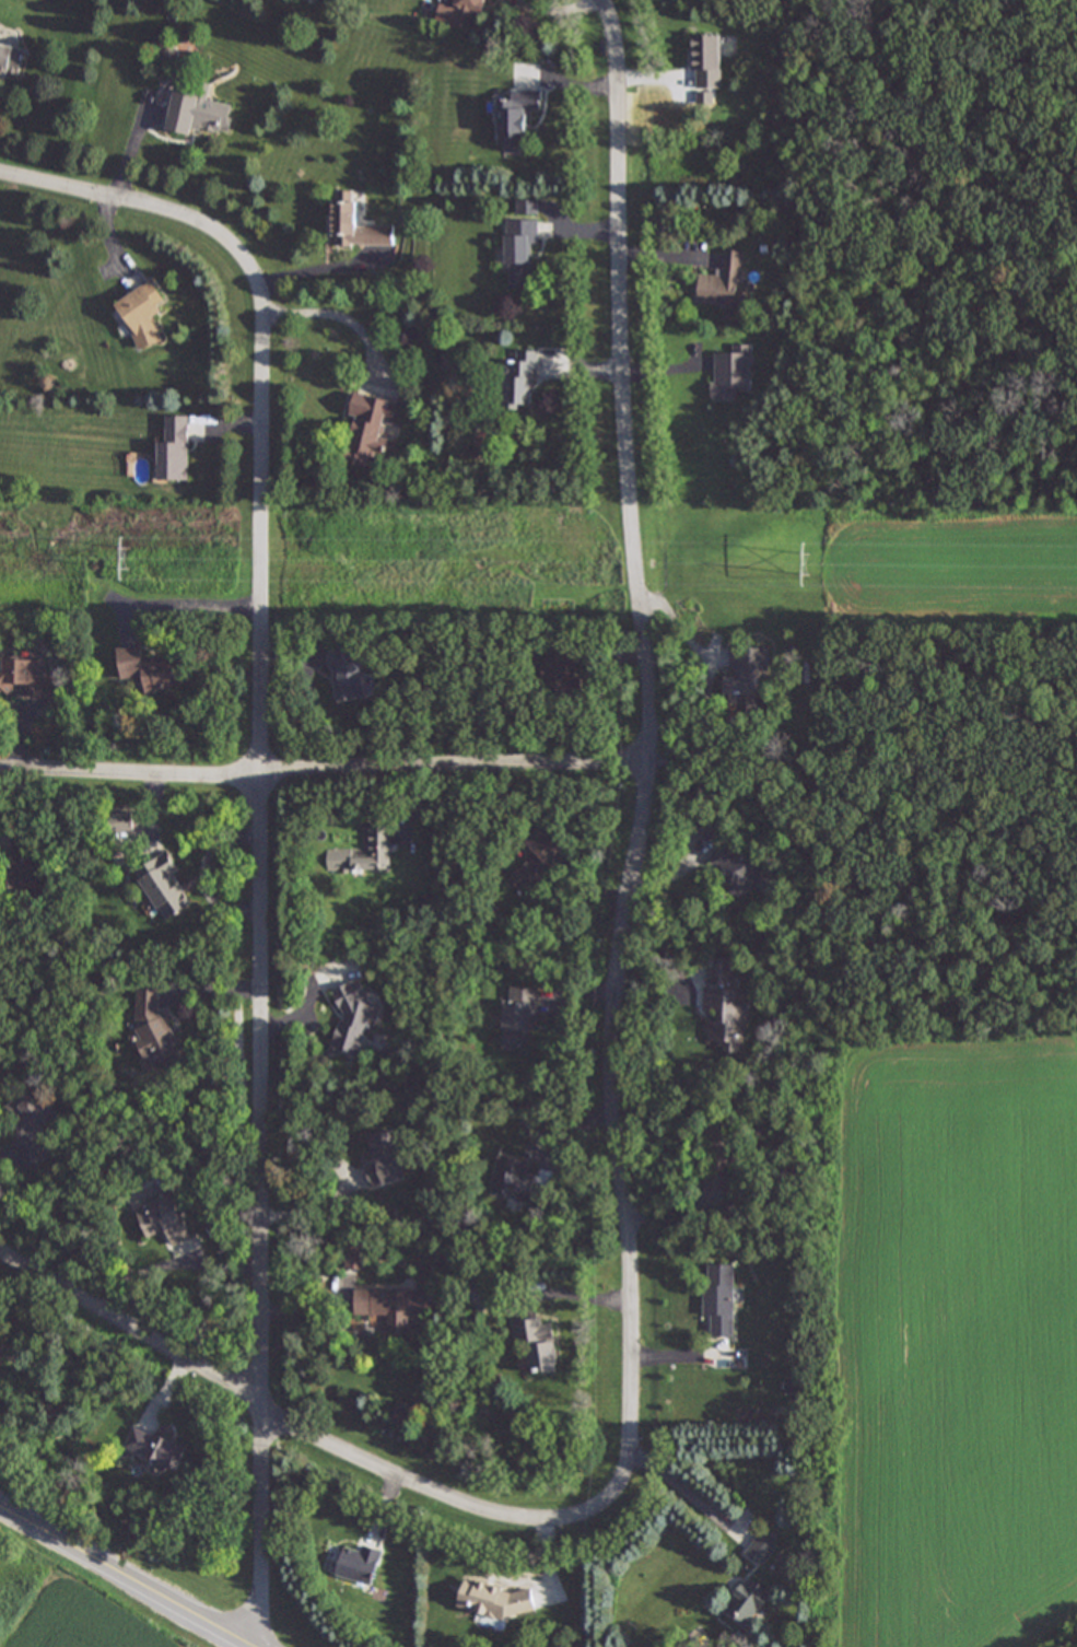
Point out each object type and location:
road: (560, 5)
building: (461, 13)
building: (10, 60)
building: (705, 61)
building: (197, 110)
building: (516, 116)
road: (131, 149)
building: (354, 224)
building: (518, 250)
road: (313, 270)
building: (721, 282)
building: (141, 314)
road: (336, 314)
building: (730, 371)
building: (520, 379)
building: (368, 428)
building: (173, 449)
power tower: (133, 559)
power tower: (809, 564)
road: (182, 606)
building: (148, 669)
building: (346, 673)
building: (562, 673)
building: (744, 676)
building: (26, 679)
road: (649, 729)
road: (324, 780)
building: (120, 821)
road: (262, 823)
building: (363, 852)
building: (538, 860)
building: (24, 865)
building: (737, 872)
building: (162, 885)
building: (724, 1007)
building: (352, 1017)
building: (519, 1018)
building: (155, 1029)
building: (28, 1115)
building: (386, 1159)
building: (716, 1176)
building: (515, 1180)
building: (163, 1218)
building: (354, 1258)
road: (145, 1271)
road: (572, 1293)
building: (480, 1297)
building: (718, 1298)
building: (393, 1306)
building: (537, 1343)
building: (3, 1350)
road: (319, 1438)
building: (154, 1448)
road: (690, 1496)
building: (760, 1549)
building: (358, 1563)
road: (122, 1577)
building: (491, 1599)
building: (747, 1600)

